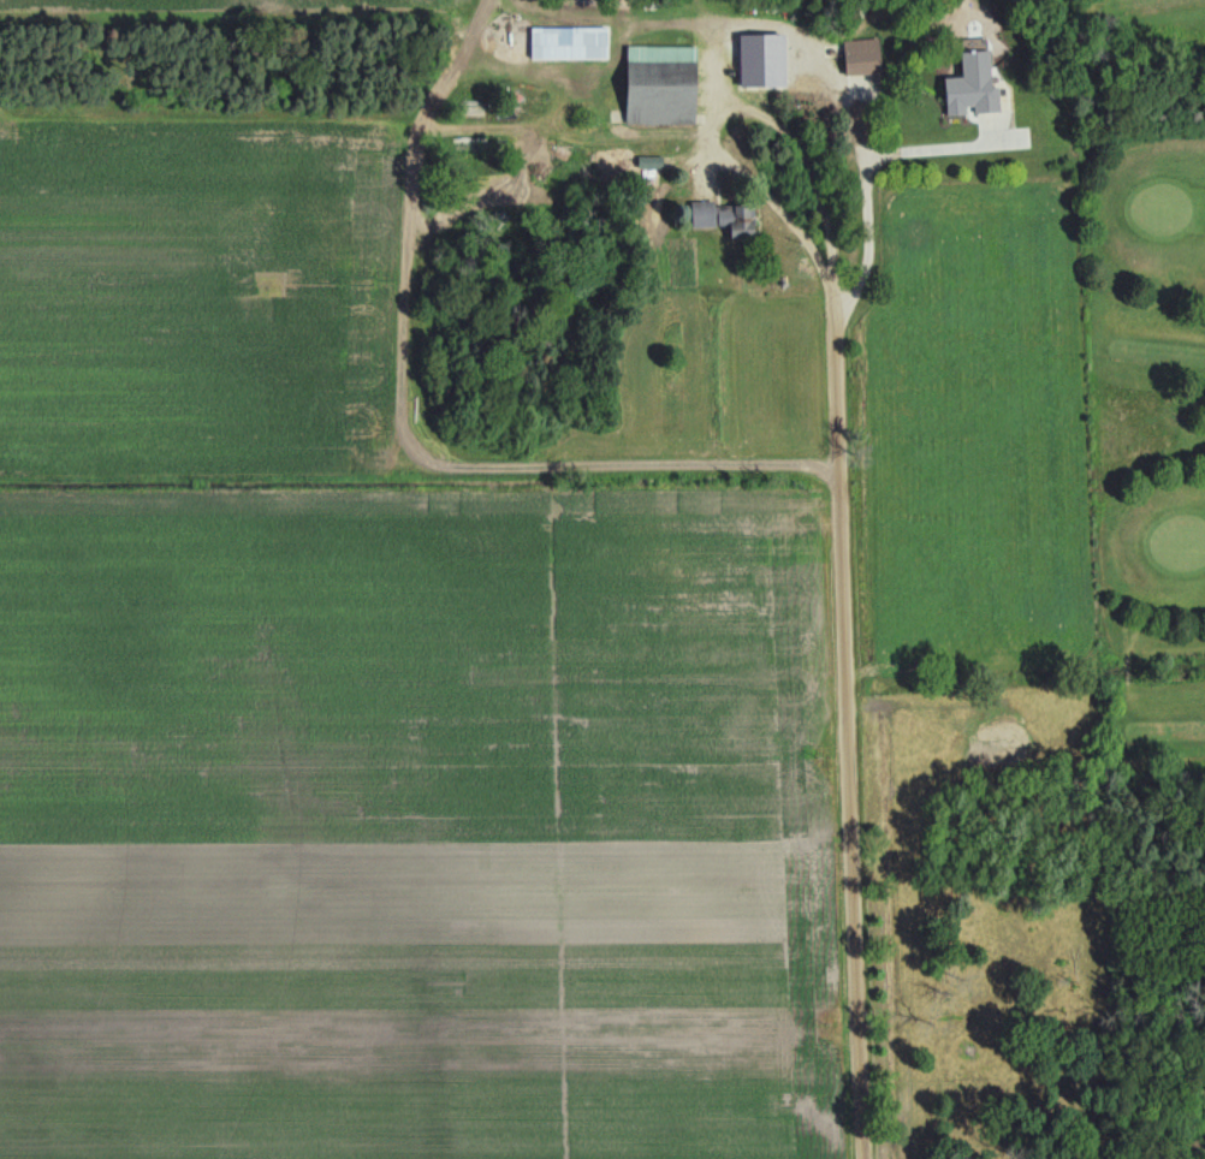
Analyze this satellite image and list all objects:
building: (564, 41)
building: (857, 55)
building: (756, 59)
road: (827, 75)
building: (968, 81)
building: (661, 84)
road: (737, 118)
road: (930, 153)
building: (722, 216)
park: (1152, 426)
road: (849, 721)

